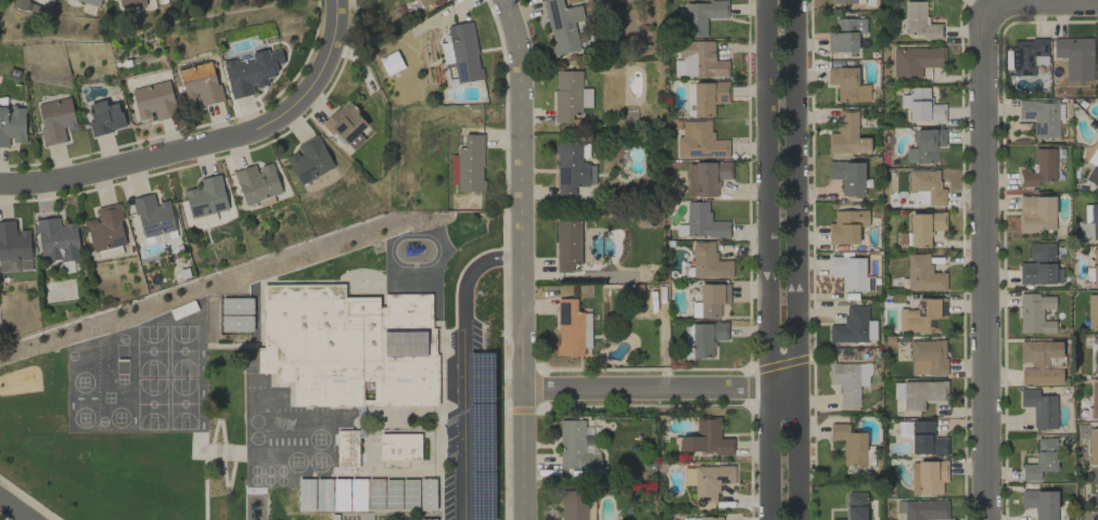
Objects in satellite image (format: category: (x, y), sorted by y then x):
road: (1082, 0)
building: (843, 1)
building: (90, 2)
building: (131, 2)
building: (424, 2)
road: (1008, 2)
building: (701, 16)
building: (919, 22)
building: (845, 35)
building: (1074, 51)
building: (445, 52)
building: (463, 52)
building: (1027, 55)
building: (698, 61)
building: (916, 61)
building: (391, 63)
building: (251, 71)
building: (200, 82)
building: (846, 83)
building: (569, 95)
building: (707, 96)
building: (154, 101)
building: (920, 105)
building: (104, 117)
building: (1040, 117)
building: (55, 119)
building: (12, 125)
building: (347, 126)
building: (846, 135)
building: (699, 142)
building: (924, 145)
road: (210, 146)
building: (309, 160)
building: (469, 165)
building: (1093, 167)
building: (1039, 168)
building: (571, 170)
building: (847, 177)
building: (705, 178)
building: (256, 182)
building: (925, 187)
building: (206, 197)
building: (1036, 213)
building: (153, 214)
building: (703, 221)
building: (1088, 223)
building: (846, 226)
building: (105, 227)
building: (921, 229)
building: (56, 239)
building: (566, 245)
building: (14, 248)
road: (521, 258)
road: (769, 259)
road: (797, 260)
road: (982, 260)
building: (708, 262)
building: (1039, 265)
building: (1095, 266)
building: (851, 274)
building: (922, 274)
building: (710, 300)
building: (1091, 312)
building: (1035, 313)
building: (921, 315)
building: (572, 327)
building: (853, 327)
building: (706, 338)
building: (346, 347)
building: (1095, 354)
building: (927, 356)
building: (1039, 362)
road: (464, 368)
building: (848, 381)
road: (659, 388)
building: (919, 393)
building: (1094, 399)
building: (1039, 408)
building: (922, 438)
building: (706, 439)
building: (850, 444)
building: (1093, 444)
building: (399, 446)
building: (575, 446)
building: (346, 448)
building: (1040, 459)
building: (927, 477)
building: (706, 481)
building: (1096, 484)
building: (1040, 503)
building: (855, 506)
road: (15, 508)
building: (573, 508)
building: (922, 509)
building: (702, 518)

